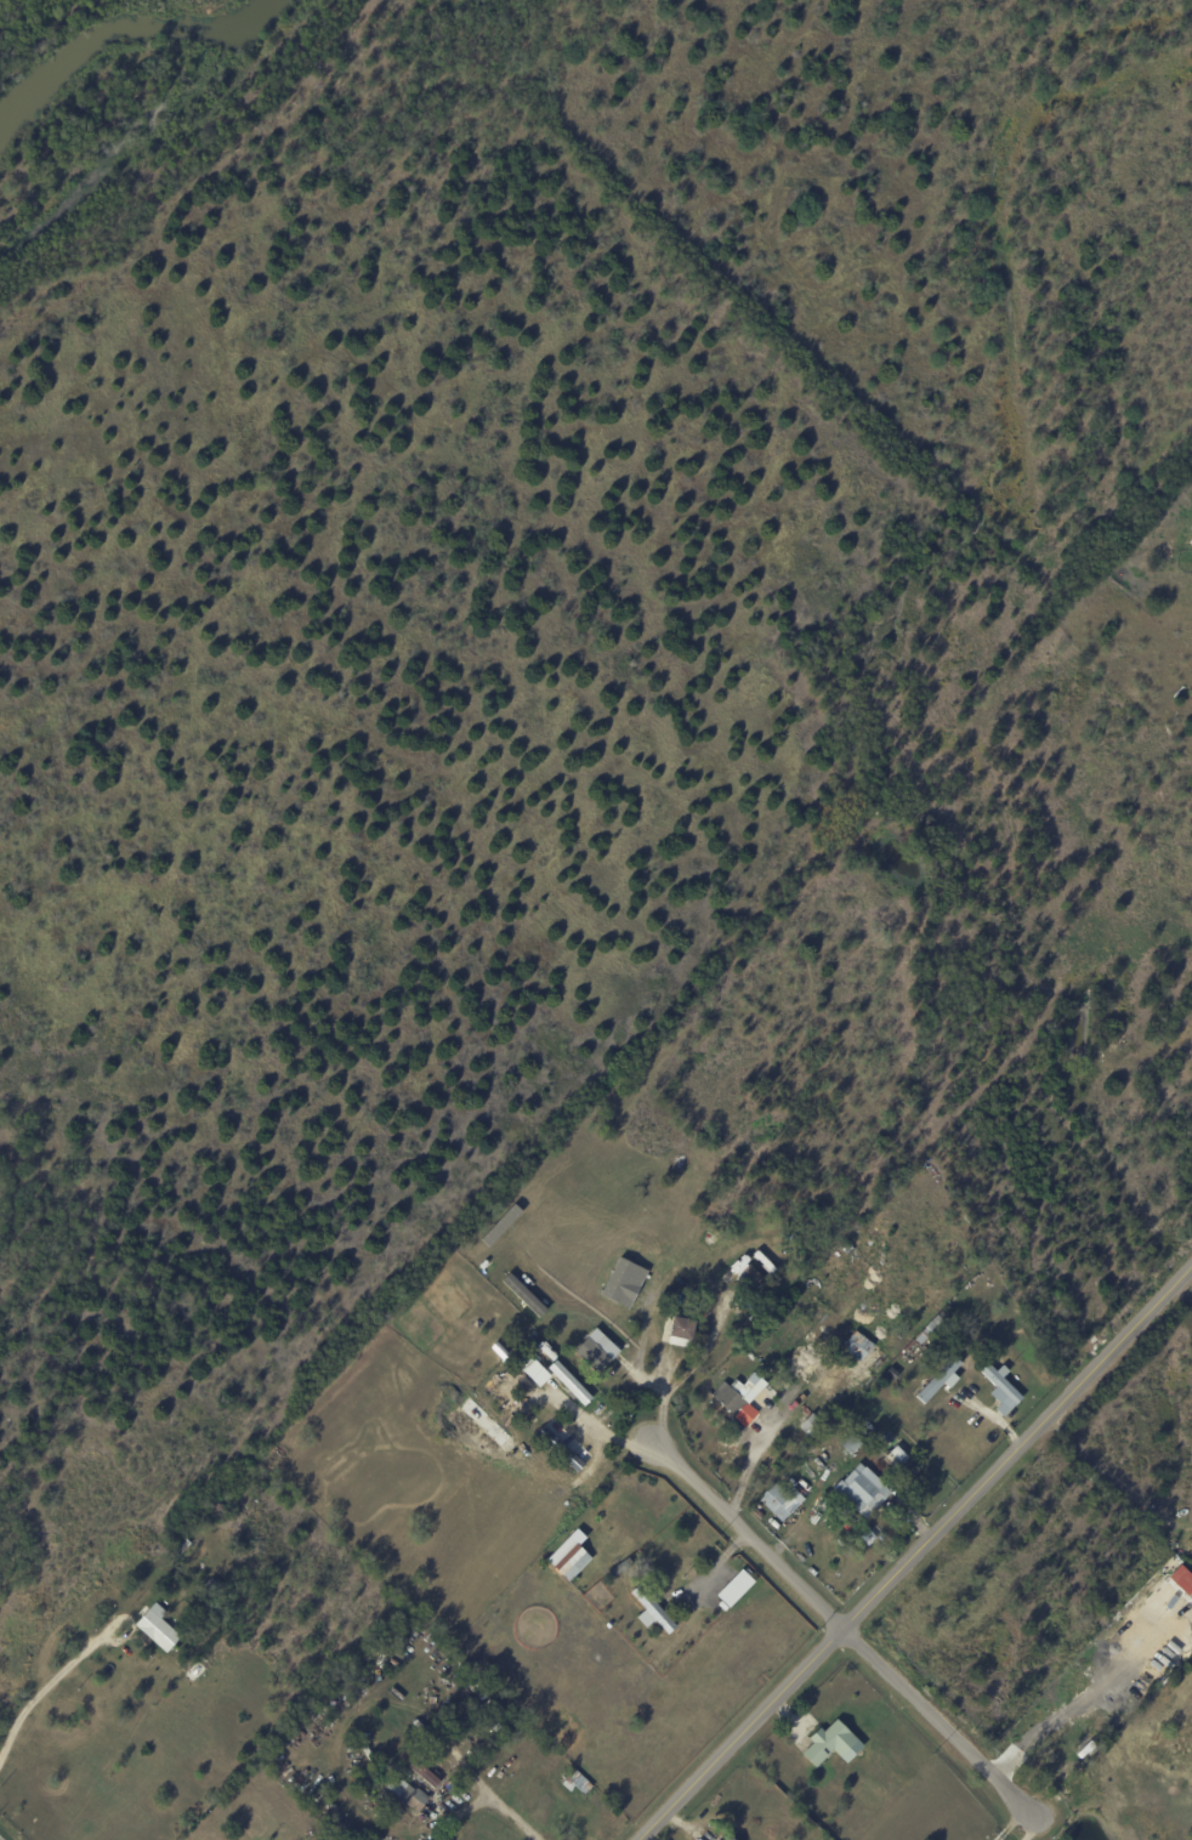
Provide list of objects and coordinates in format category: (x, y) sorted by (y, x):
building: (1190, 540)
building: (720, 1186)
building: (847, 1249)
building: (747, 1274)
building: (727, 1277)
building: (621, 1282)
building: (932, 1327)
building: (679, 1329)
building: (625, 1346)
building: (857, 1346)
building: (595, 1350)
building: (533, 1369)
building: (896, 1369)
road: (681, 1376)
building: (938, 1379)
building: (571, 1382)
building: (1001, 1388)
building: (737, 1402)
building: (812, 1426)
building: (848, 1444)
building: (889, 1446)
building: (563, 1447)
building: (797, 1488)
building: (862, 1490)
building: (1074, 1495)
building: (774, 1500)
building: (222, 1510)
building: (210, 1522)
building: (868, 1539)
building: (187, 1544)
building: (562, 1554)
road: (919, 1555)
building: (246, 1566)
building: (621, 1568)
building: (1181, 1580)
building: (193, 1588)
building: (212, 1588)
building: (733, 1588)
building: (182, 1589)
building: (1190, 1597)
building: (652, 1609)
building: (608, 1624)
building: (159, 1626)
building: (195, 1629)
road: (841, 1630)
building: (637, 1645)
building: (455, 1657)
road: (53, 1680)
building: (477, 1688)
road: (1078, 1700)
building: (465, 1702)
building: (490, 1706)
building: (317, 1713)
building: (498, 1731)
building: (831, 1744)
building: (420, 1768)
building: (404, 1791)
road: (1007, 1823)
building: (341, 1824)
road: (1028, 1829)
building: (727, 1838)

